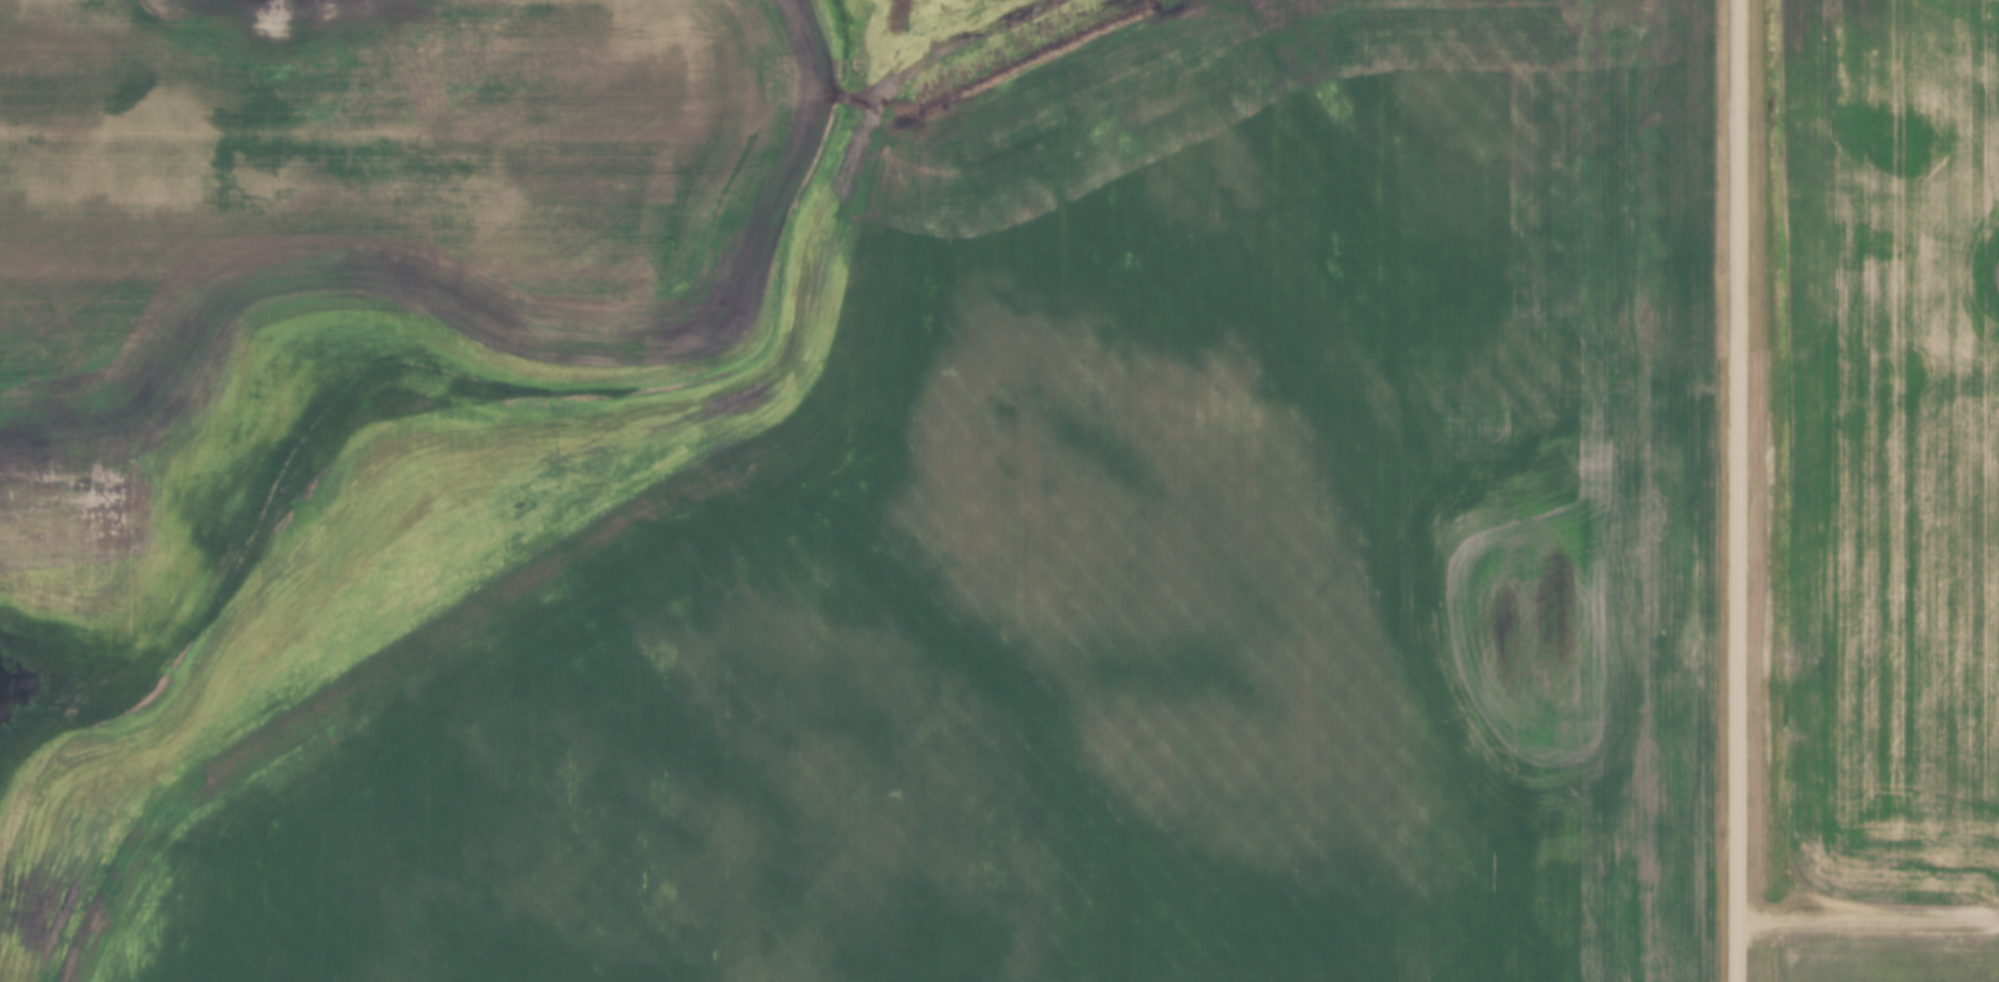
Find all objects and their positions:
road: (1737, 491)

